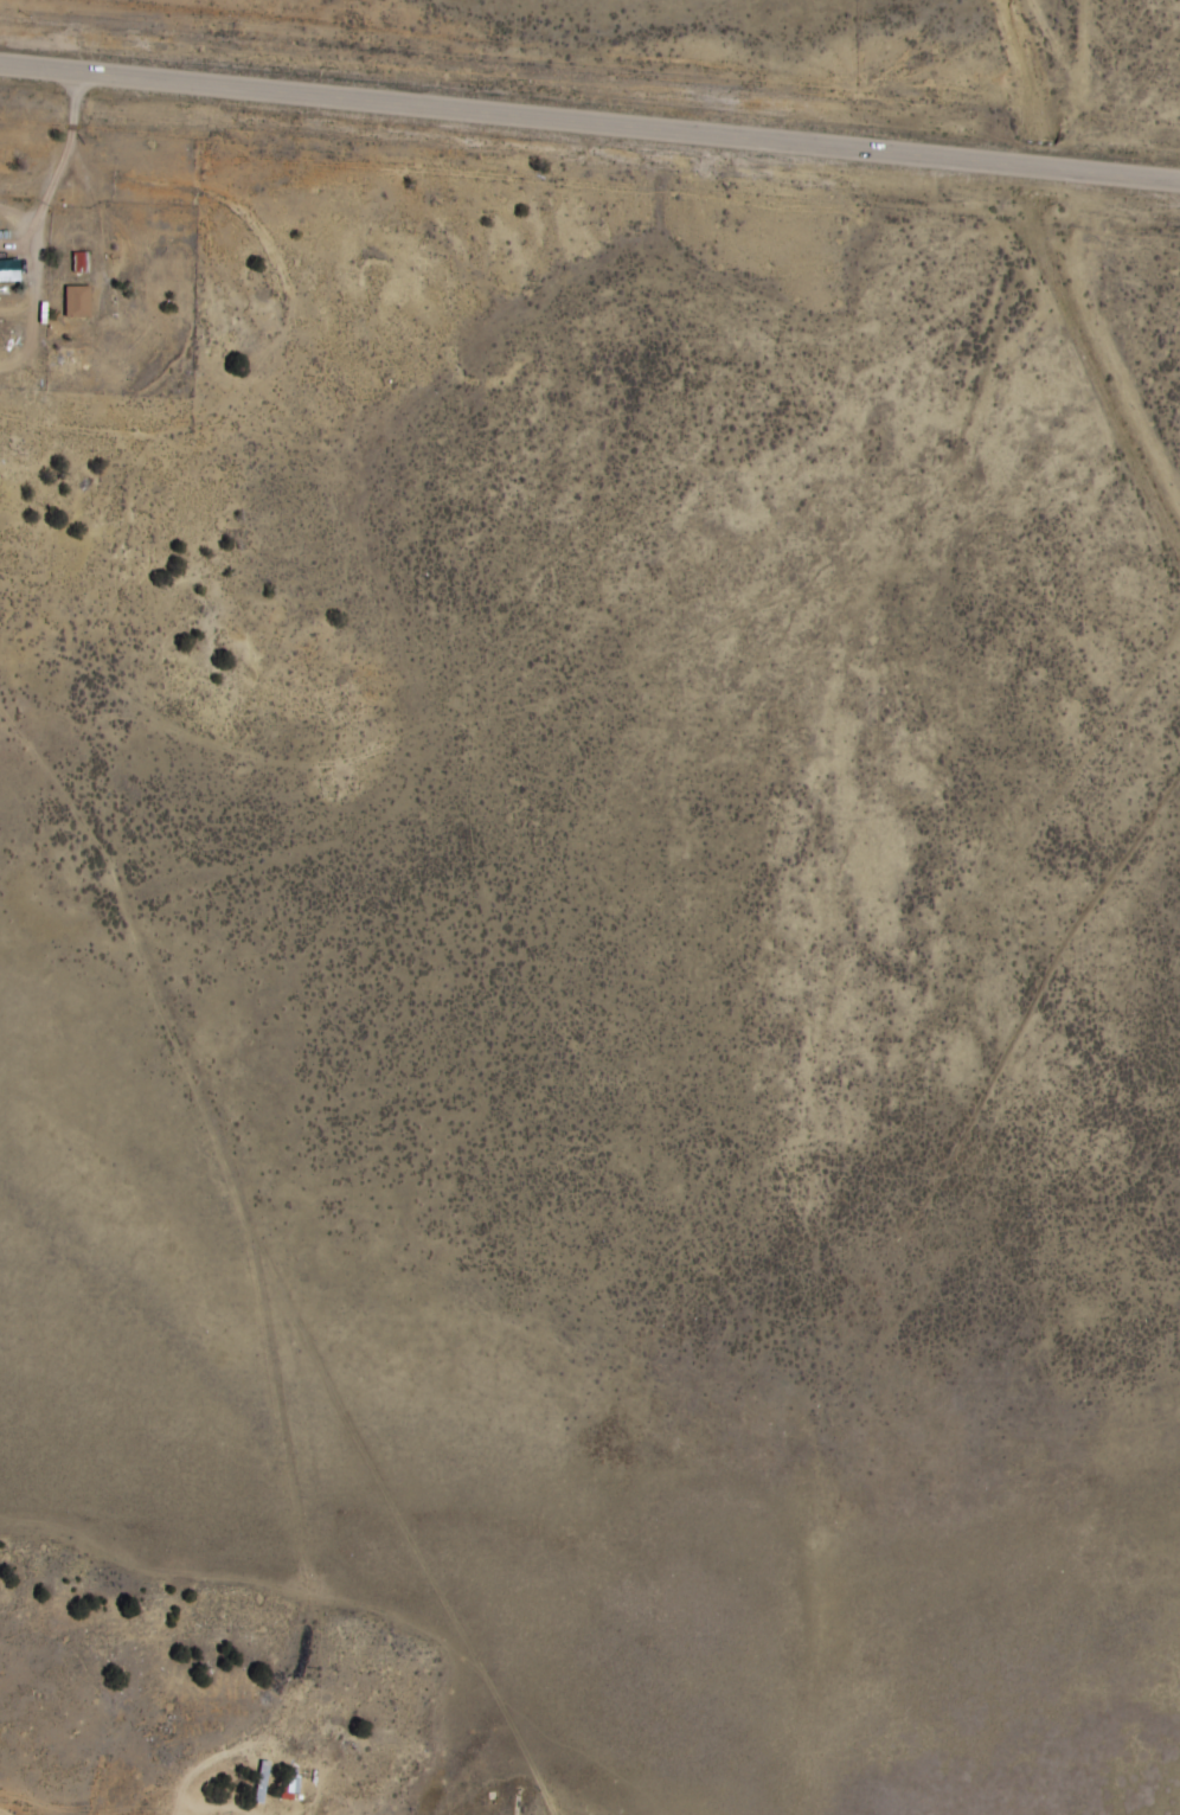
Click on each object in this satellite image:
road: (590, 122)
building: (78, 262)
building: (8, 270)
building: (75, 301)
road: (476, 1657)
building: (259, 1781)

